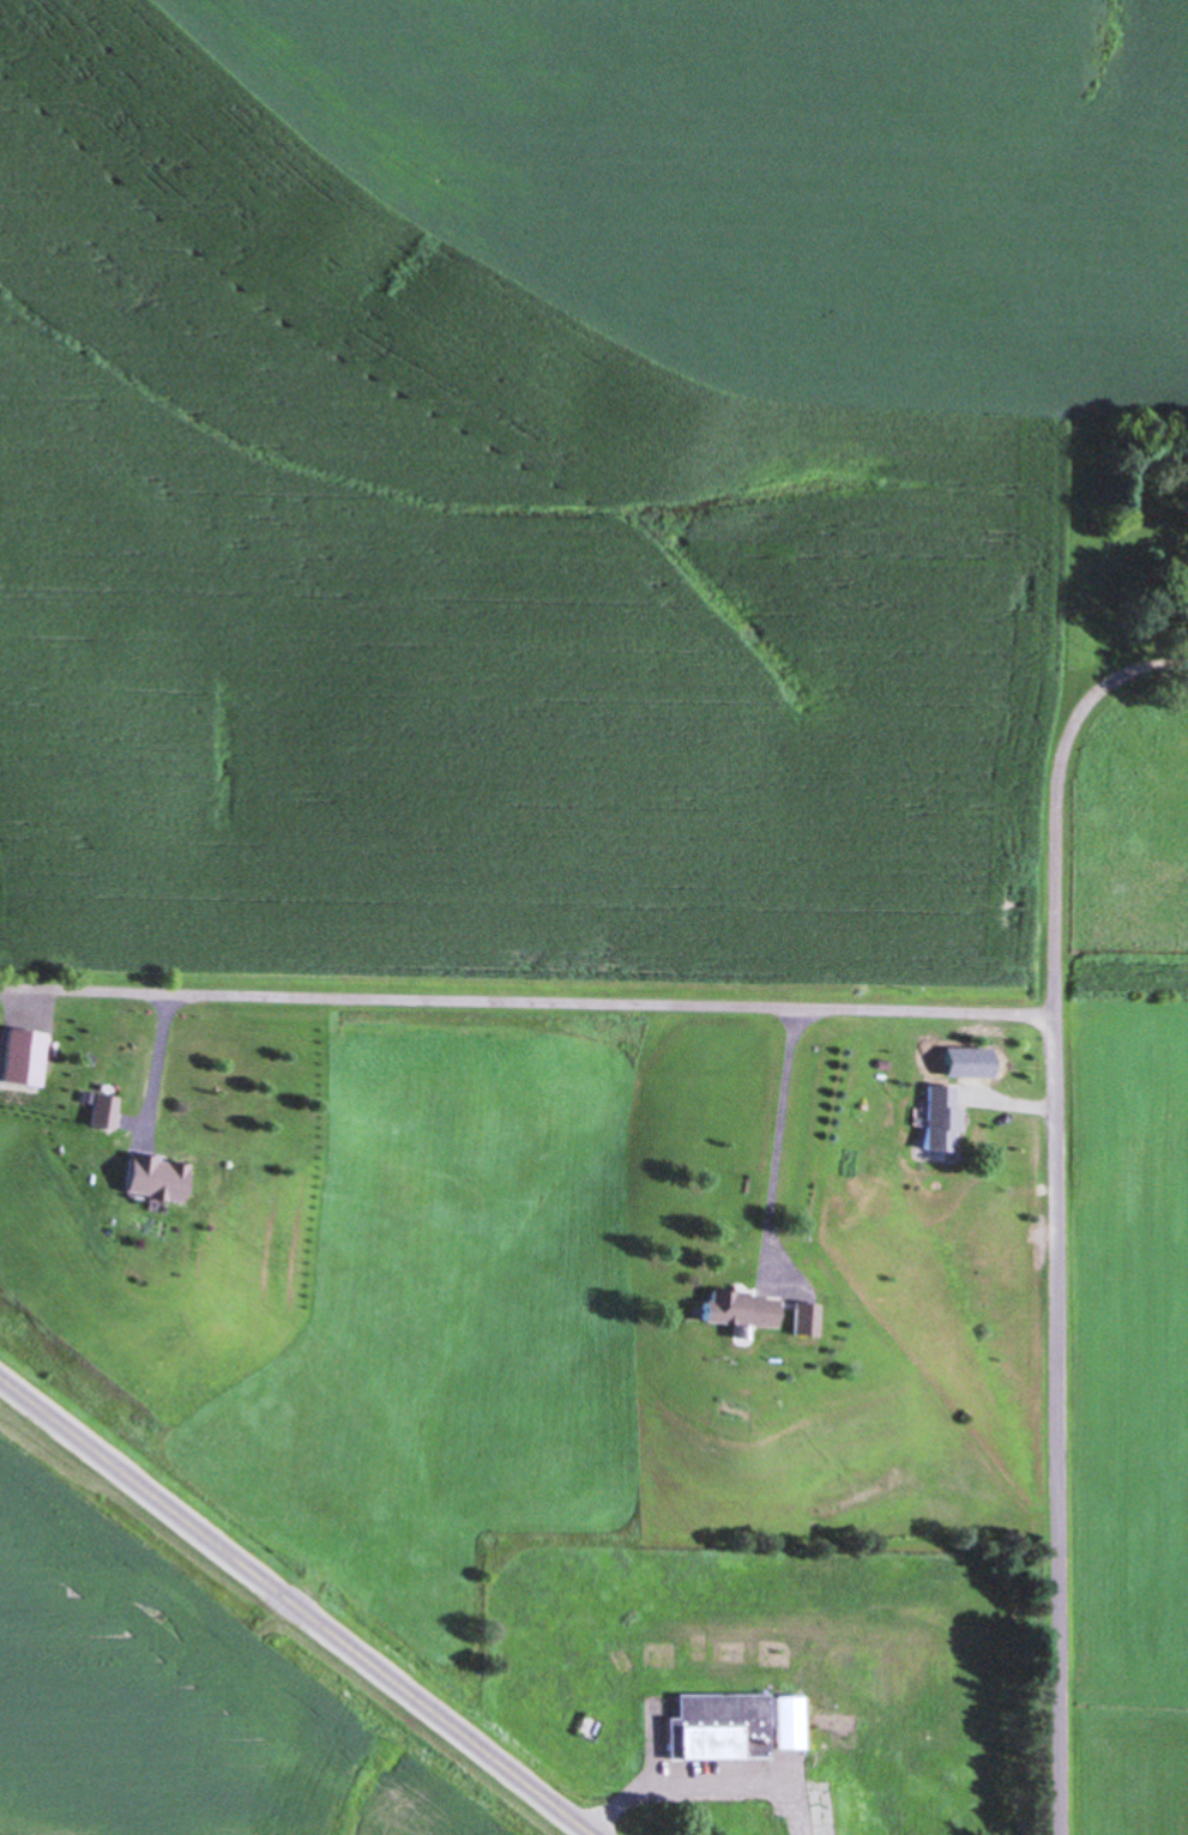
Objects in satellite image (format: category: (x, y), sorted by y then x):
road: (1116, 677)
road: (529, 997)
road: (159, 1048)
building: (937, 1106)
building: (101, 1112)
road: (778, 1128)
building: (155, 1160)
road: (1057, 1284)
building: (736, 1293)
building: (803, 1305)
building: (736, 1310)
building: (803, 1322)
road: (303, 1601)
building: (736, 1726)
road: (707, 1780)

